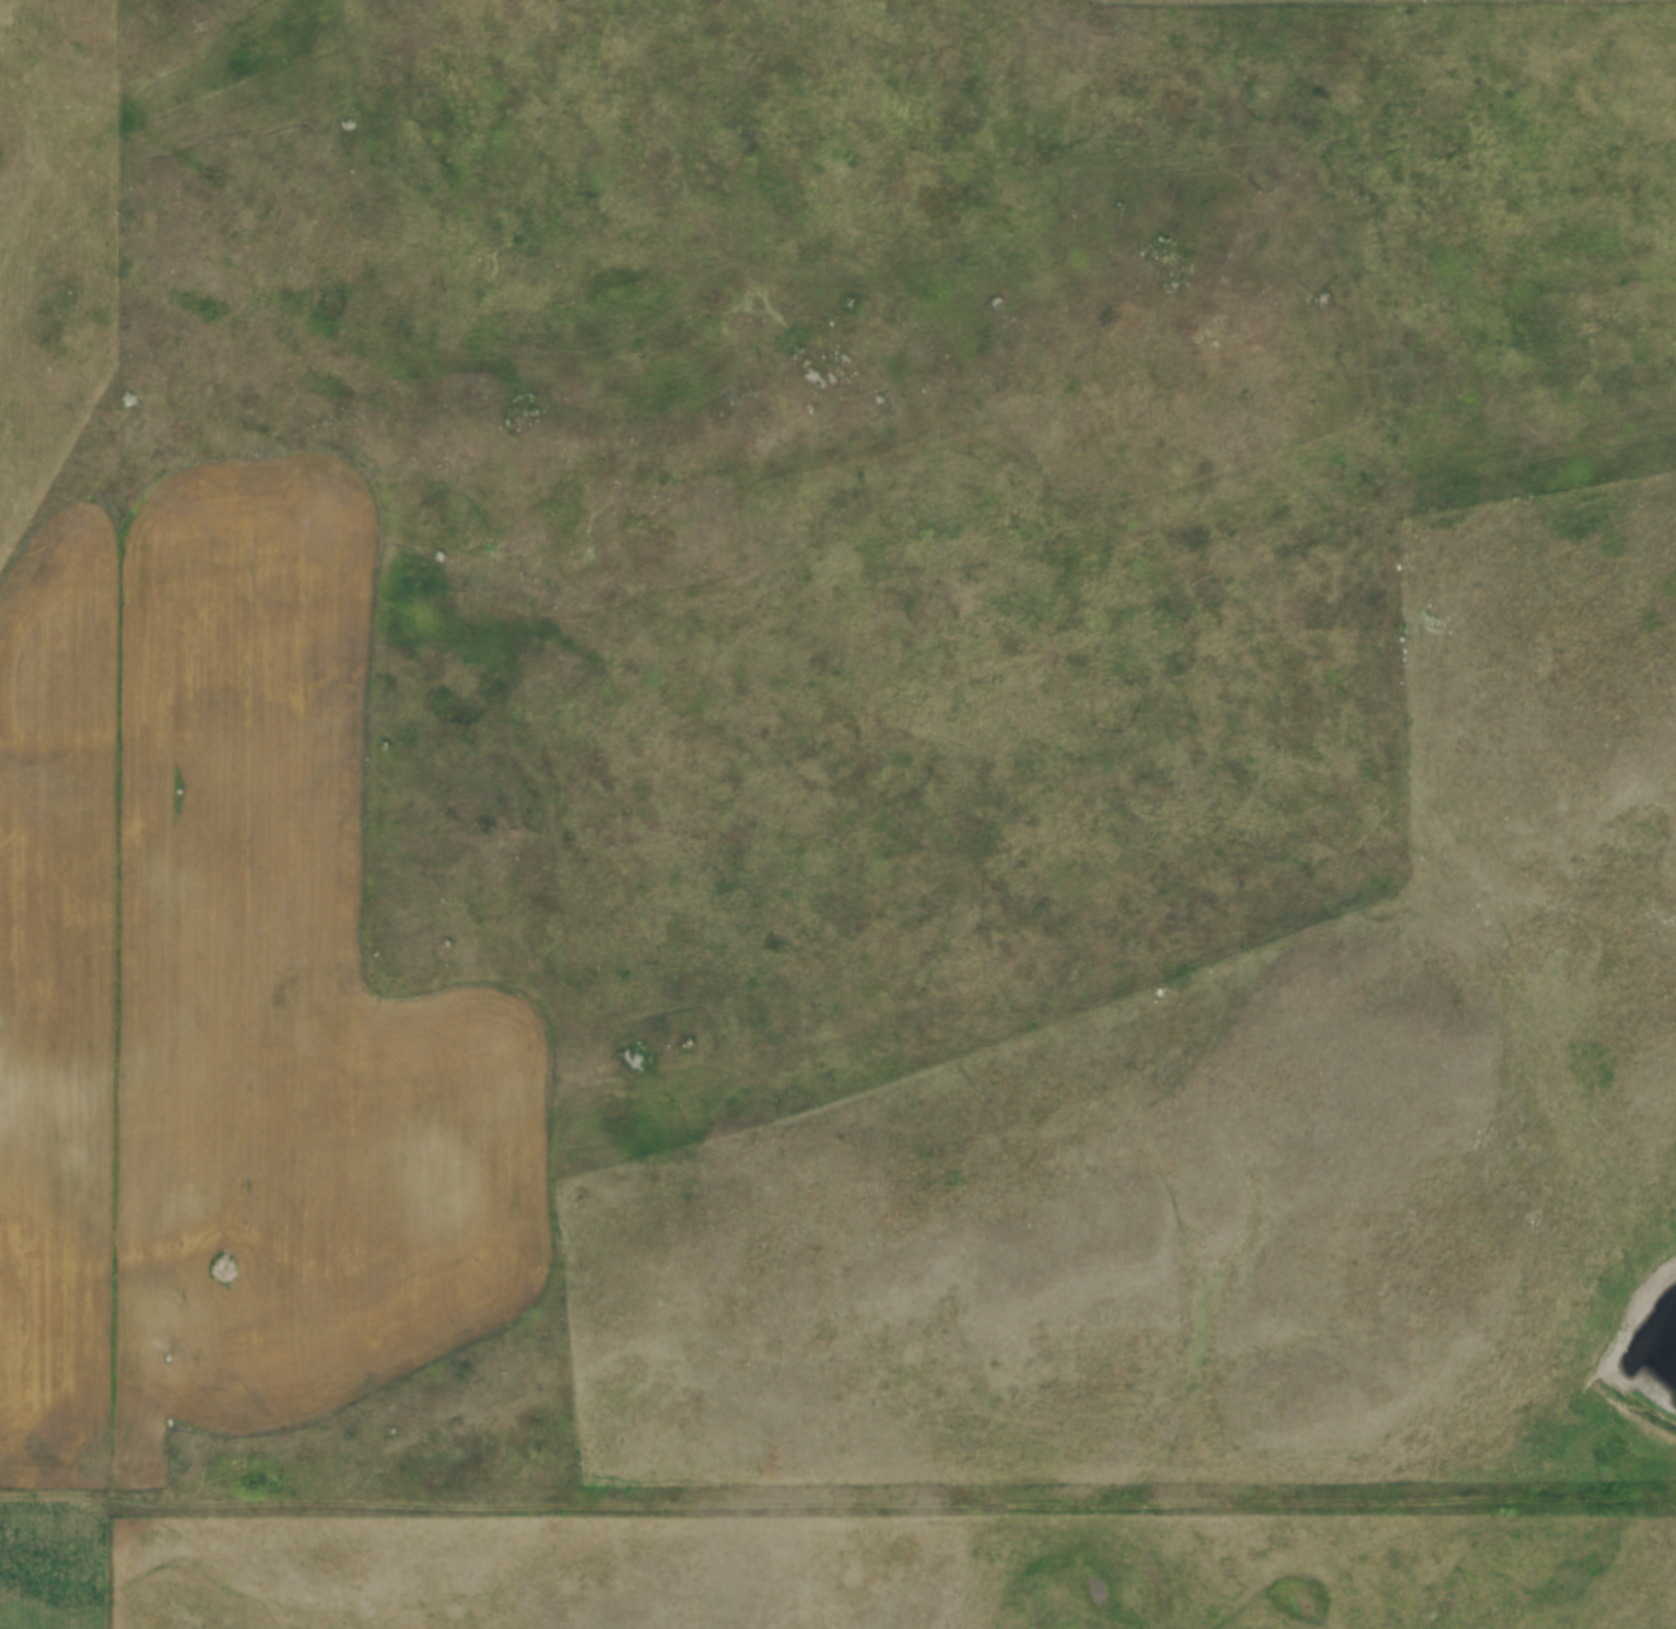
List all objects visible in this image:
road: (837, 1497)

